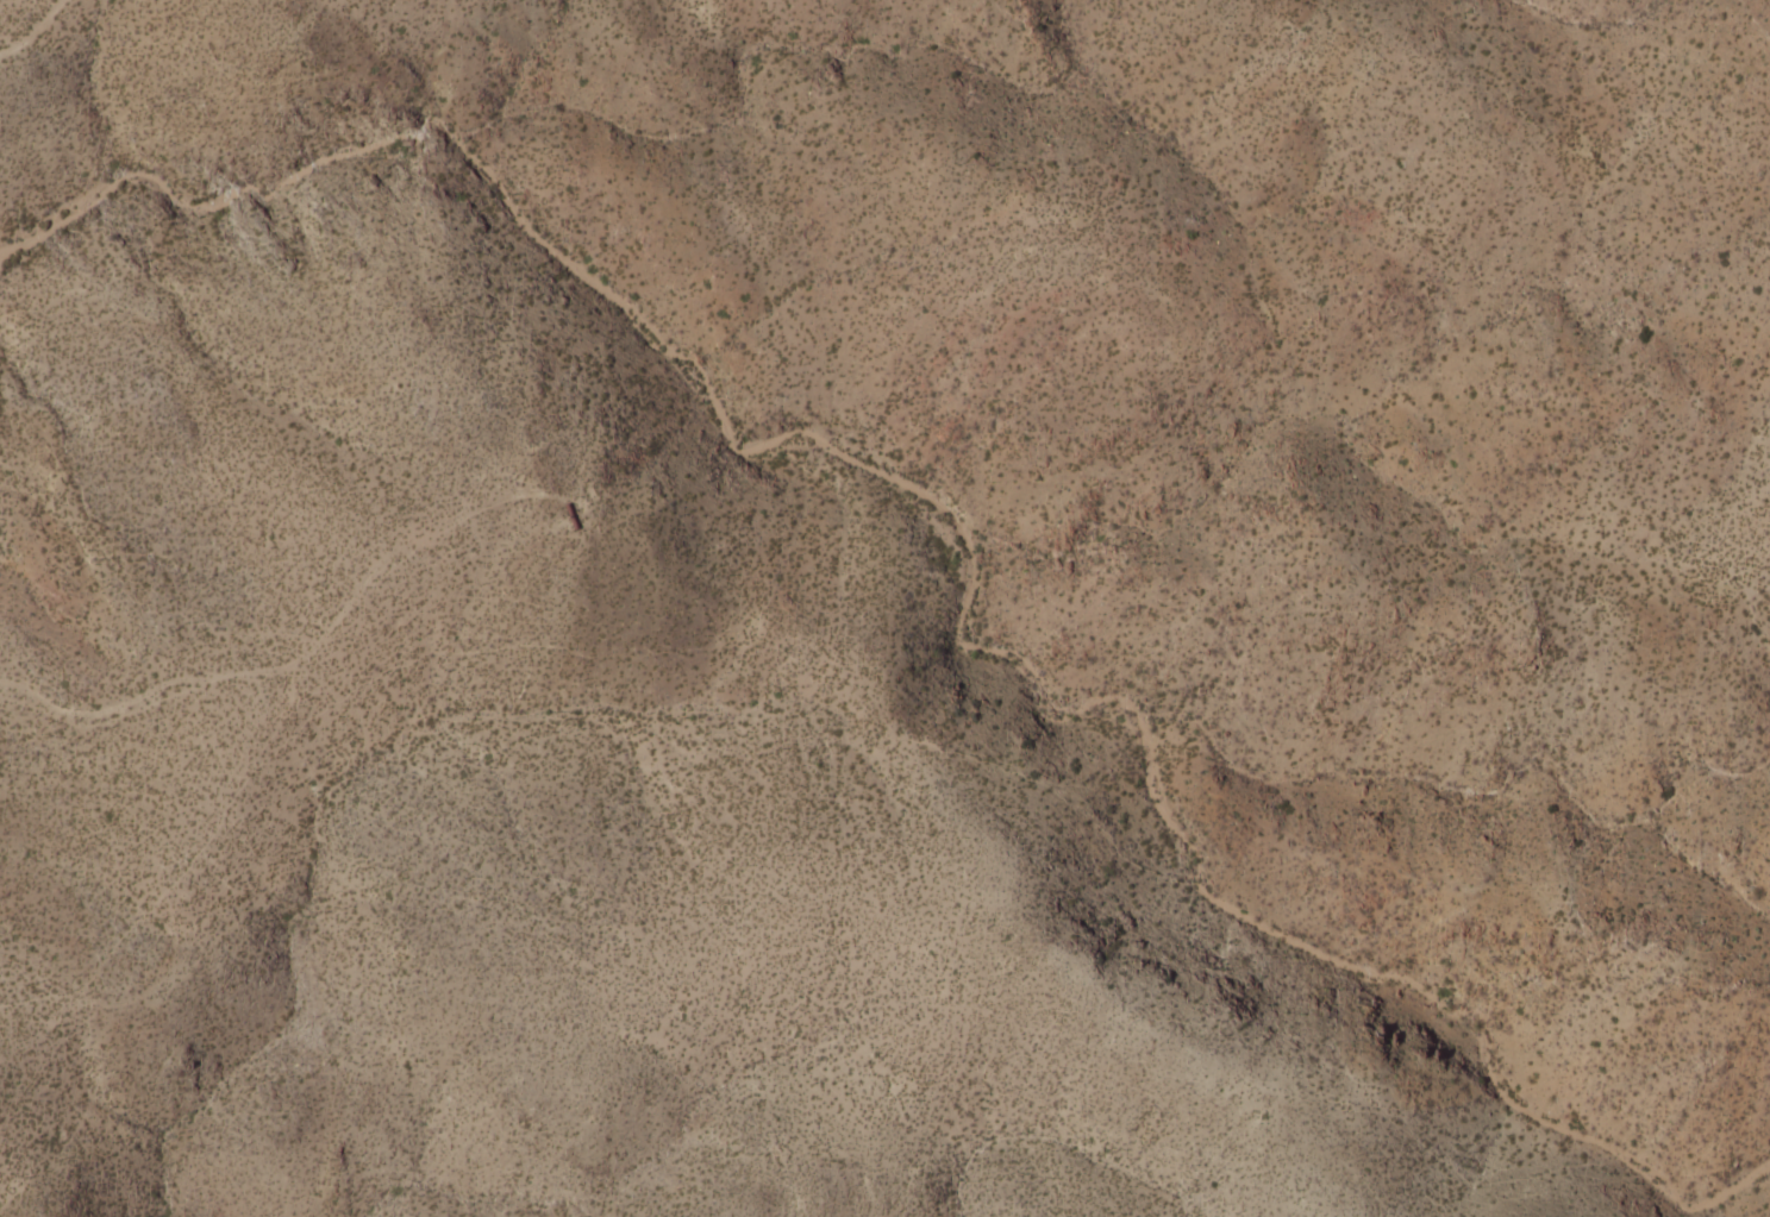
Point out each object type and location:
road: (35, 31)
road: (292, 663)

